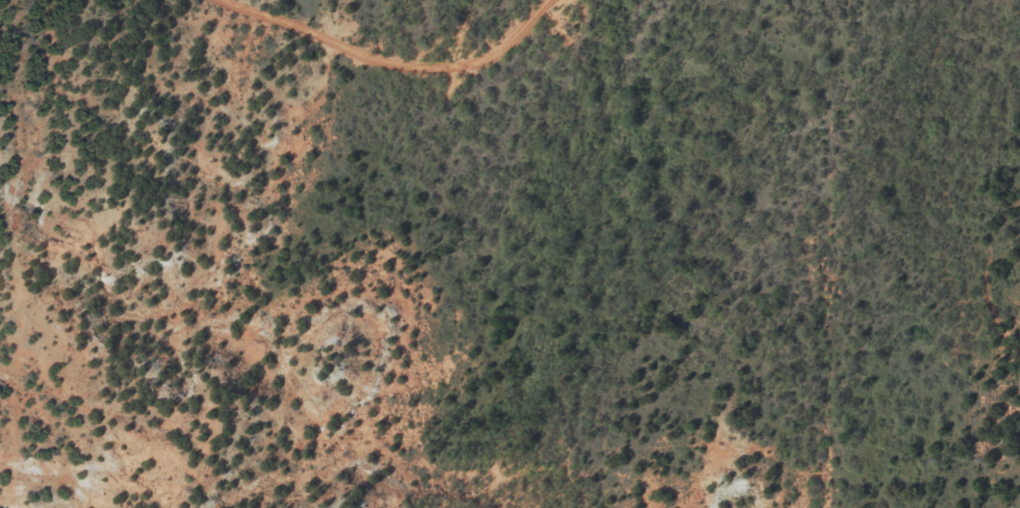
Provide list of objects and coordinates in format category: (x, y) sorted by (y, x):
road: (404, 83)

